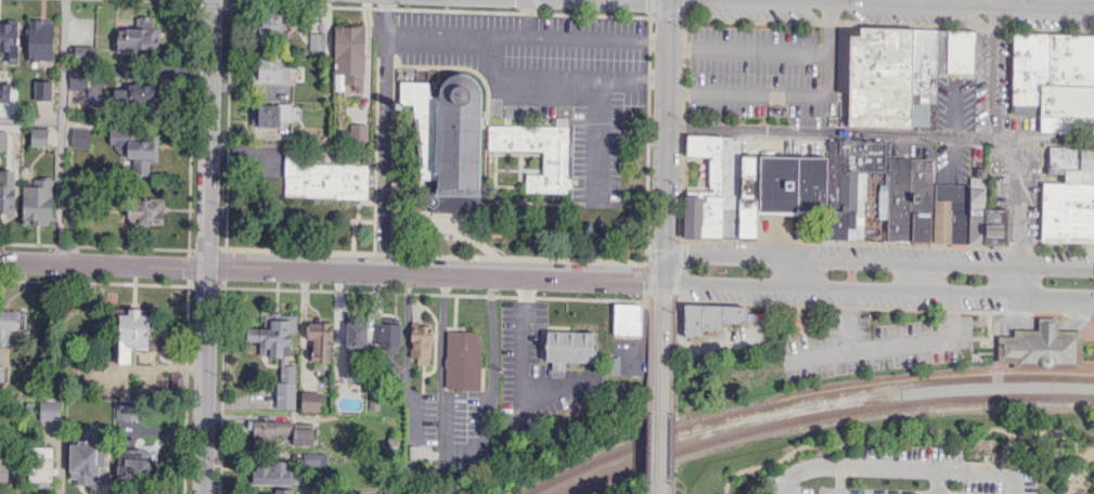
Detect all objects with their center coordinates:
road: (921, 2)
road: (955, 2)
road: (916, 3)
road: (993, 3)
road: (1027, 3)
road: (651, 9)
road: (685, 9)
road: (667, 11)
road: (563, 13)
road: (386, 15)
building: (270, 26)
road: (526, 35)
building: (40, 39)
building: (316, 41)
building: (9, 42)
road: (746, 50)
building: (941, 51)
building: (961, 52)
building: (83, 53)
building: (348, 58)
building: (1071, 58)
building: (923, 65)
building: (1029, 66)
building: (272, 70)
parking lot: (761, 71)
road: (991, 71)
road: (559, 76)
building: (841, 76)
building: (879, 77)
building: (76, 78)
parking lot: (549, 78)
parking lot: (994, 81)
building: (43, 89)
building: (133, 92)
road: (791, 95)
building: (1066, 100)
parking lot: (954, 102)
building: (273, 114)
road: (800, 114)
road: (30, 120)
building: (79, 123)
building: (1066, 125)
road: (61, 130)
road: (681, 130)
road: (209, 132)
building: (358, 132)
road: (827, 132)
building: (39, 136)
building: (77, 138)
building: (2, 139)
building: (448, 139)
road: (664, 141)
road: (382, 151)
building: (709, 158)
building: (1071, 158)
building: (554, 161)
building: (1079, 174)
building: (324, 179)
building: (848, 181)
building: (793, 183)
parking lot: (1019, 185)
building: (730, 186)
building: (7, 188)
road: (1018, 188)
building: (38, 199)
building: (898, 199)
building: (919, 200)
building: (1068, 211)
building: (146, 212)
building: (951, 212)
building: (703, 216)
building: (747, 217)
building: (995, 226)
building: (975, 229)
road: (681, 240)
road: (313, 250)
parking lot: (904, 252)
road: (664, 253)
parking lot: (1061, 258)
road: (872, 261)
road: (678, 268)
road: (332, 270)
road: (919, 277)
road: (1015, 281)
flagpole: (1073, 282)
road: (878, 289)
road: (674, 296)
parking lot: (836, 297)
road: (838, 305)
road: (1061, 311)
building: (707, 315)
road: (1018, 317)
building: (626, 318)
road: (1076, 318)
road: (847, 320)
building: (799, 323)
building: (8, 324)
road: (1047, 327)
road: (1087, 329)
building: (360, 333)
building: (389, 335)
road: (662, 337)
building: (319, 340)
building: (421, 343)
parking lot: (872, 344)
road: (891, 344)
building: (569, 347)
building: (1041, 347)
building: (278, 352)
road: (406, 359)
building: (463, 359)
building: (612, 364)
road: (1086, 364)
road: (1086, 364)
building: (352, 373)
road: (207, 379)
building: (177, 380)
railway: (777, 392)
building: (310, 401)
railway: (802, 401)
building: (49, 409)
building: (125, 412)
railway: (821, 413)
building: (271, 430)
building: (303, 435)
road: (671, 435)
road: (903, 435)
road: (660, 437)
road: (461, 451)
road: (1083, 455)
road: (1084, 460)
building: (87, 463)
building: (138, 464)
road: (865, 465)
building: (41, 466)
building: (3, 468)
parking lot: (918, 470)
road: (986, 470)
building: (271, 472)
park: (723, 474)
road: (1071, 484)
road: (658, 487)
road: (670, 487)
road: (1066, 489)
road: (1082, 490)
building: (280, 491)

